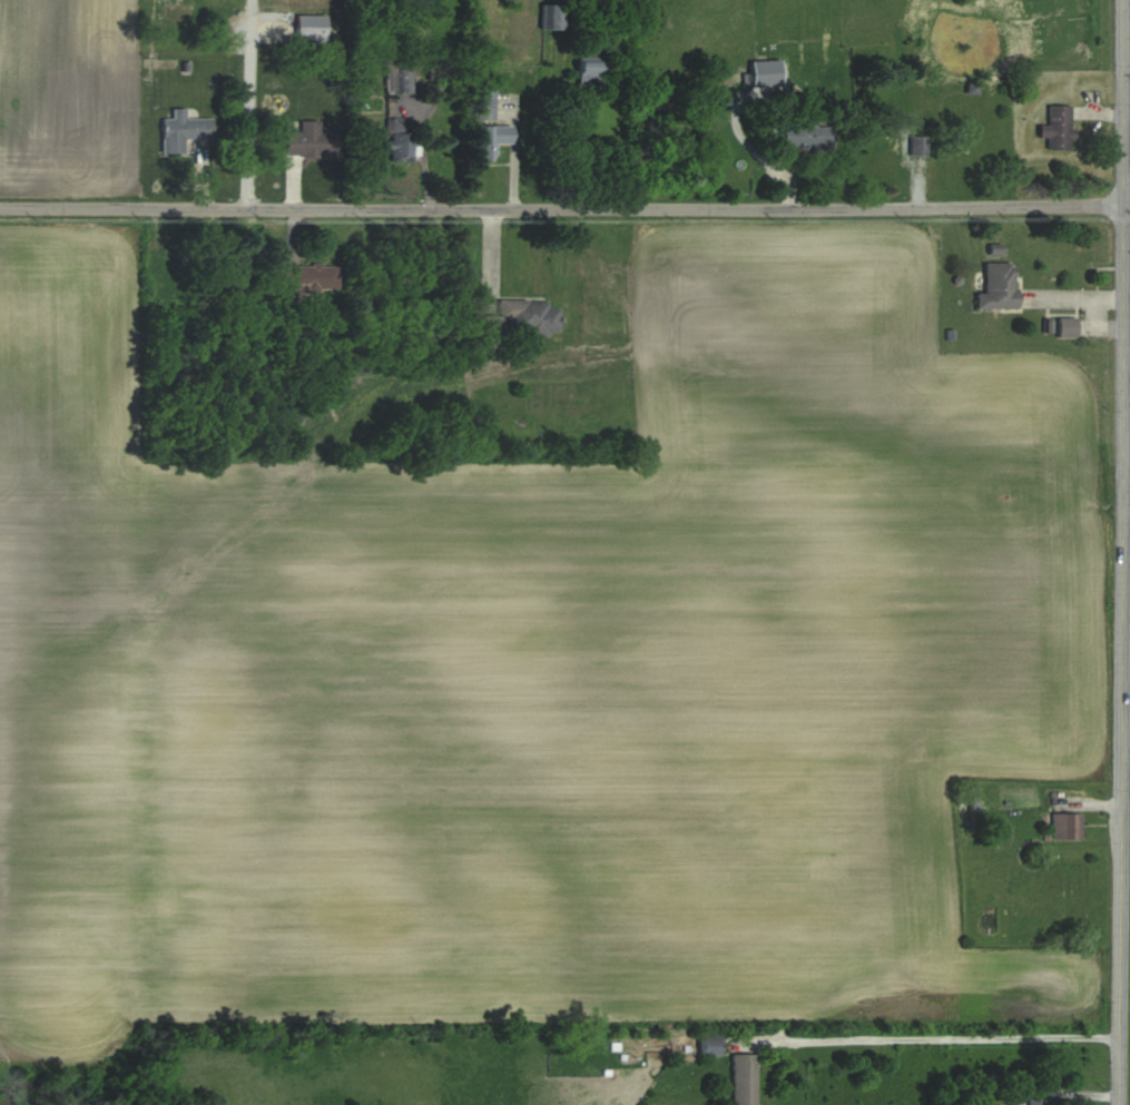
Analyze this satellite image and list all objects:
building: (552, 17)
building: (308, 29)
building: (588, 75)
building: (403, 77)
building: (483, 105)
road: (248, 121)
building: (1055, 128)
building: (181, 131)
building: (805, 135)
building: (489, 139)
building: (308, 140)
building: (400, 140)
building: (916, 145)
road: (564, 208)
building: (165, 263)
building: (308, 277)
building: (996, 286)
building: (513, 323)
road: (1123, 552)
building: (1064, 827)
road: (959, 1038)
building: (708, 1047)
building: (741, 1079)
building: (1033, 1102)

